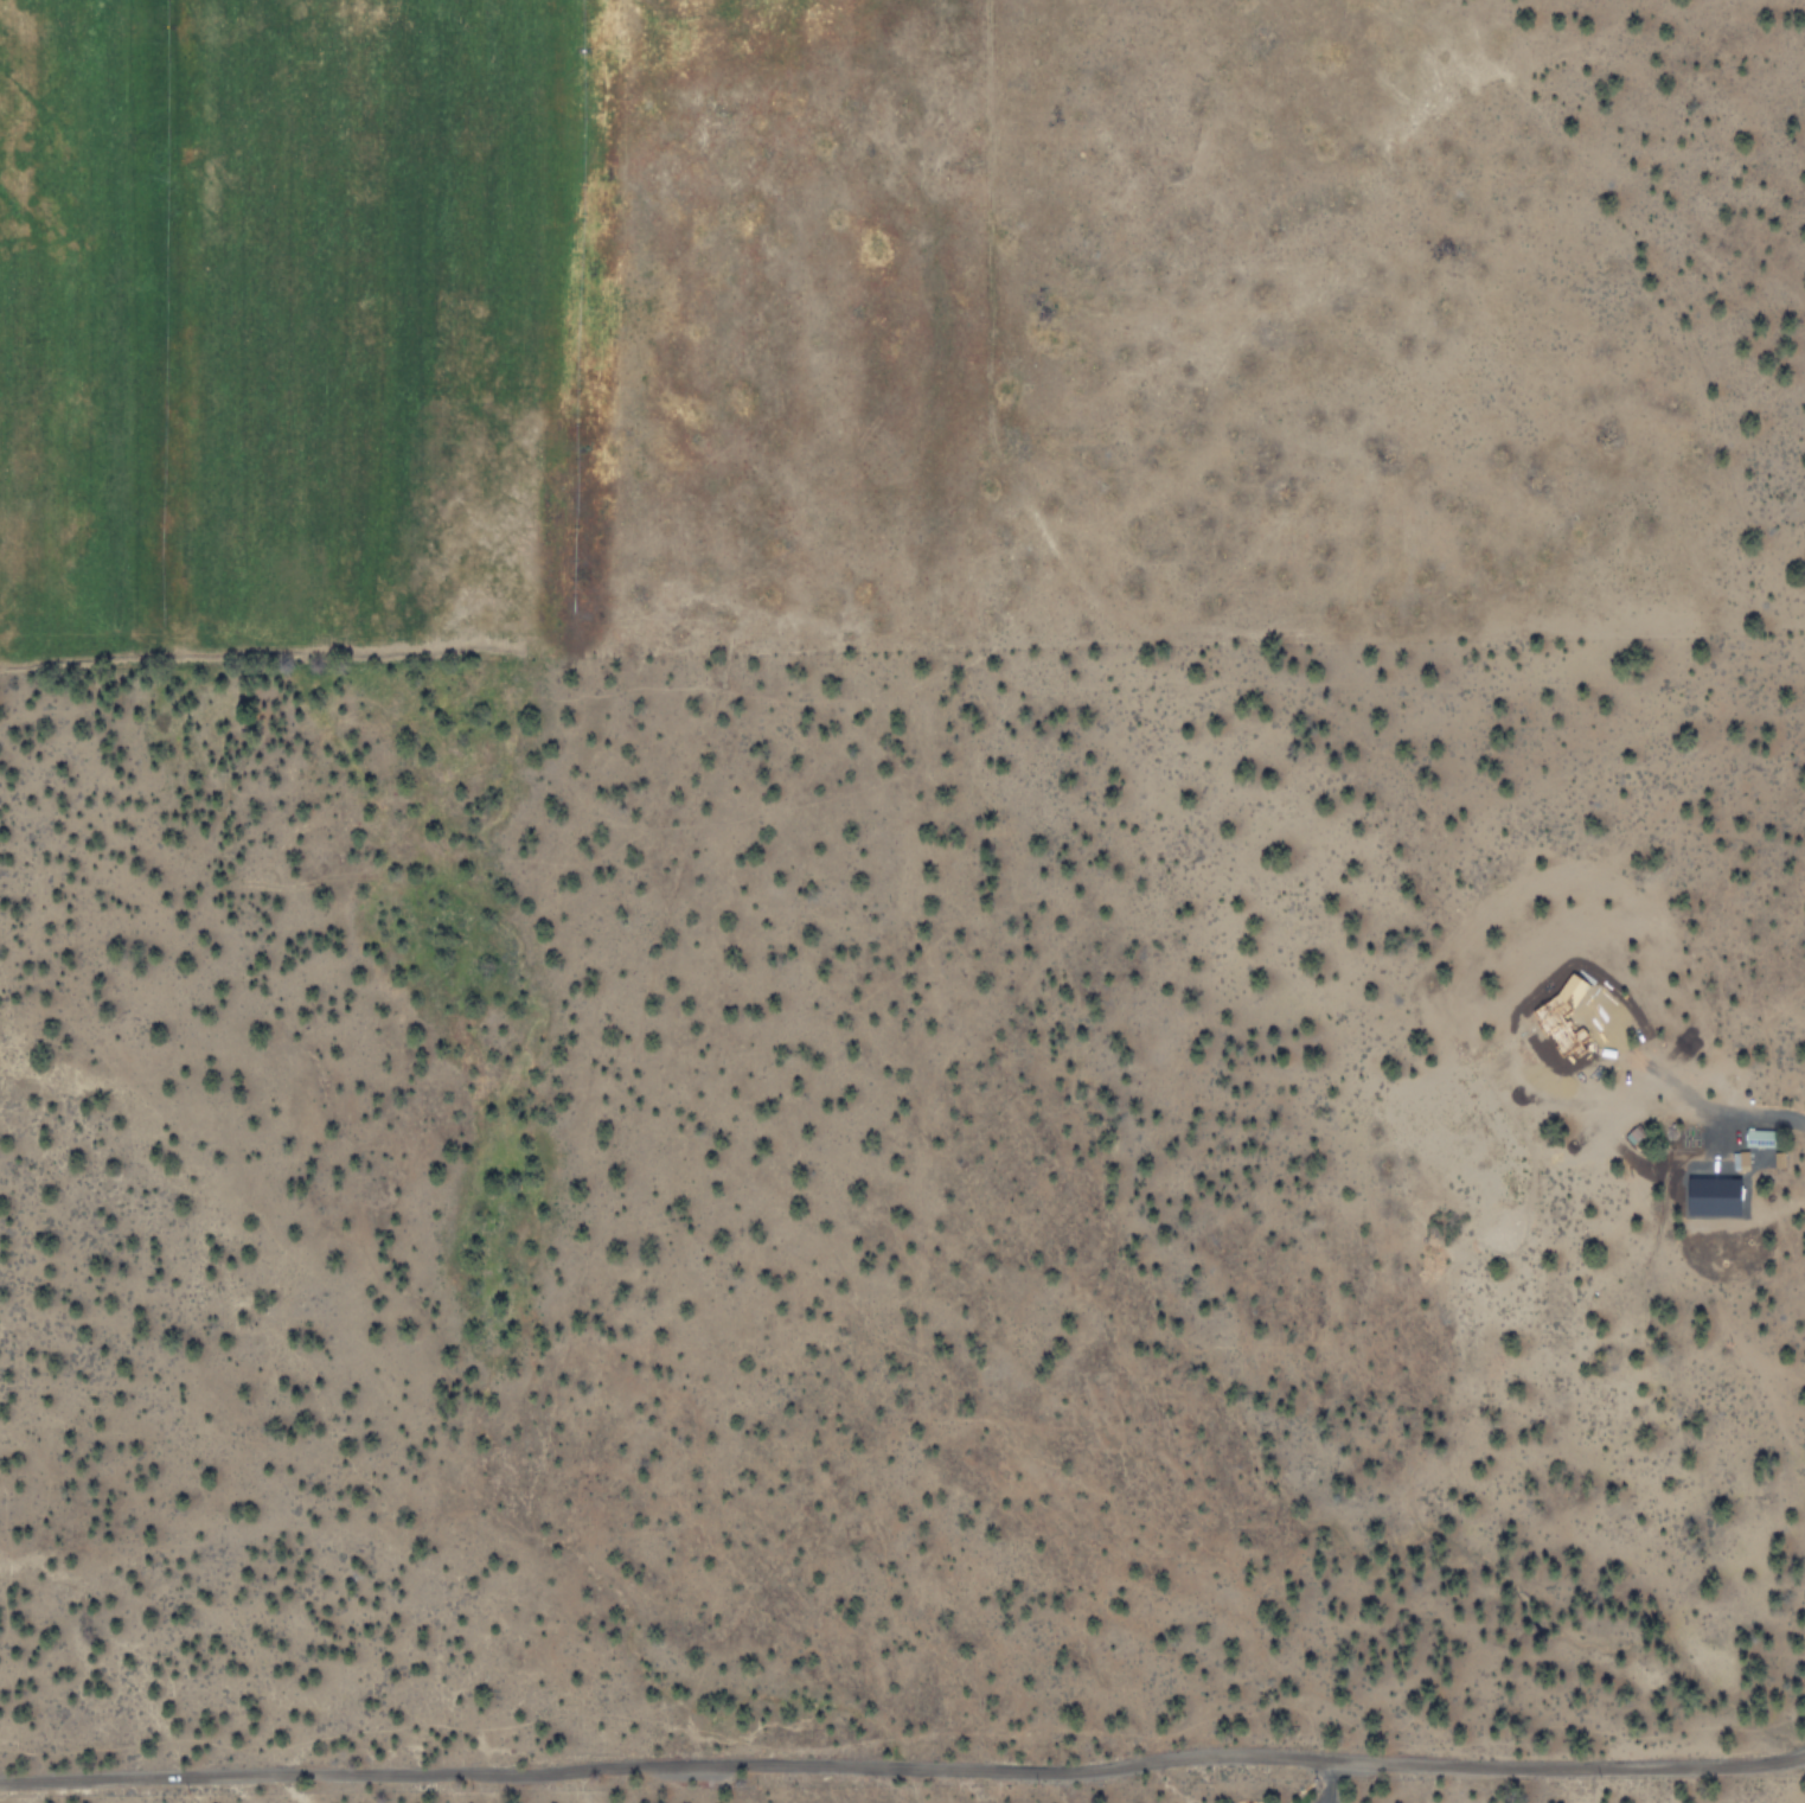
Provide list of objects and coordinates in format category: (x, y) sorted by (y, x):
crop: (813, 327)
building: (1717, 1195)
road: (903, 1770)

